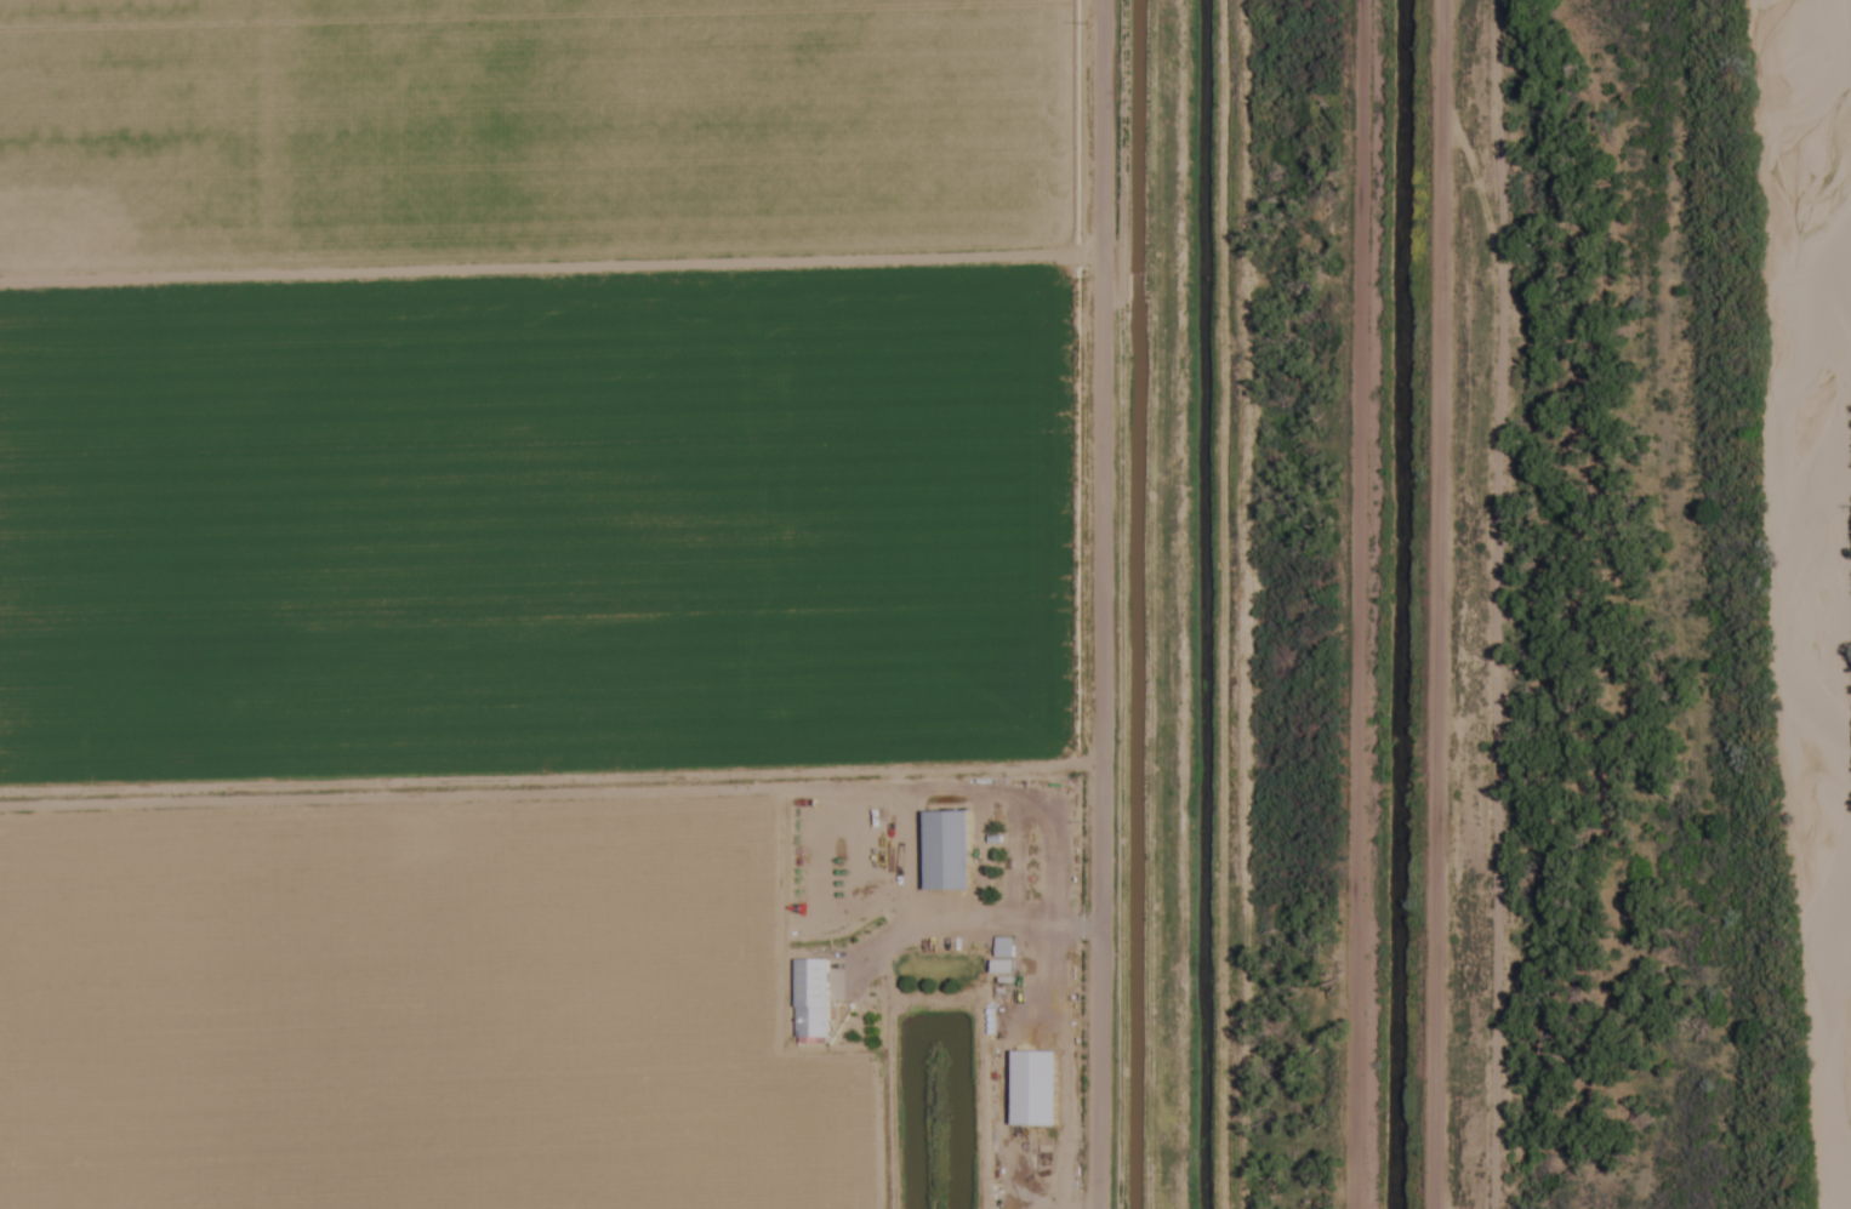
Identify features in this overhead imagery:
road: (1090, 604)
road: (1346, 604)
road: (1417, 604)
river: (1813, 604)
building: (946, 850)
building: (1002, 947)
building: (999, 966)
building: (810, 998)
building: (1033, 1088)

